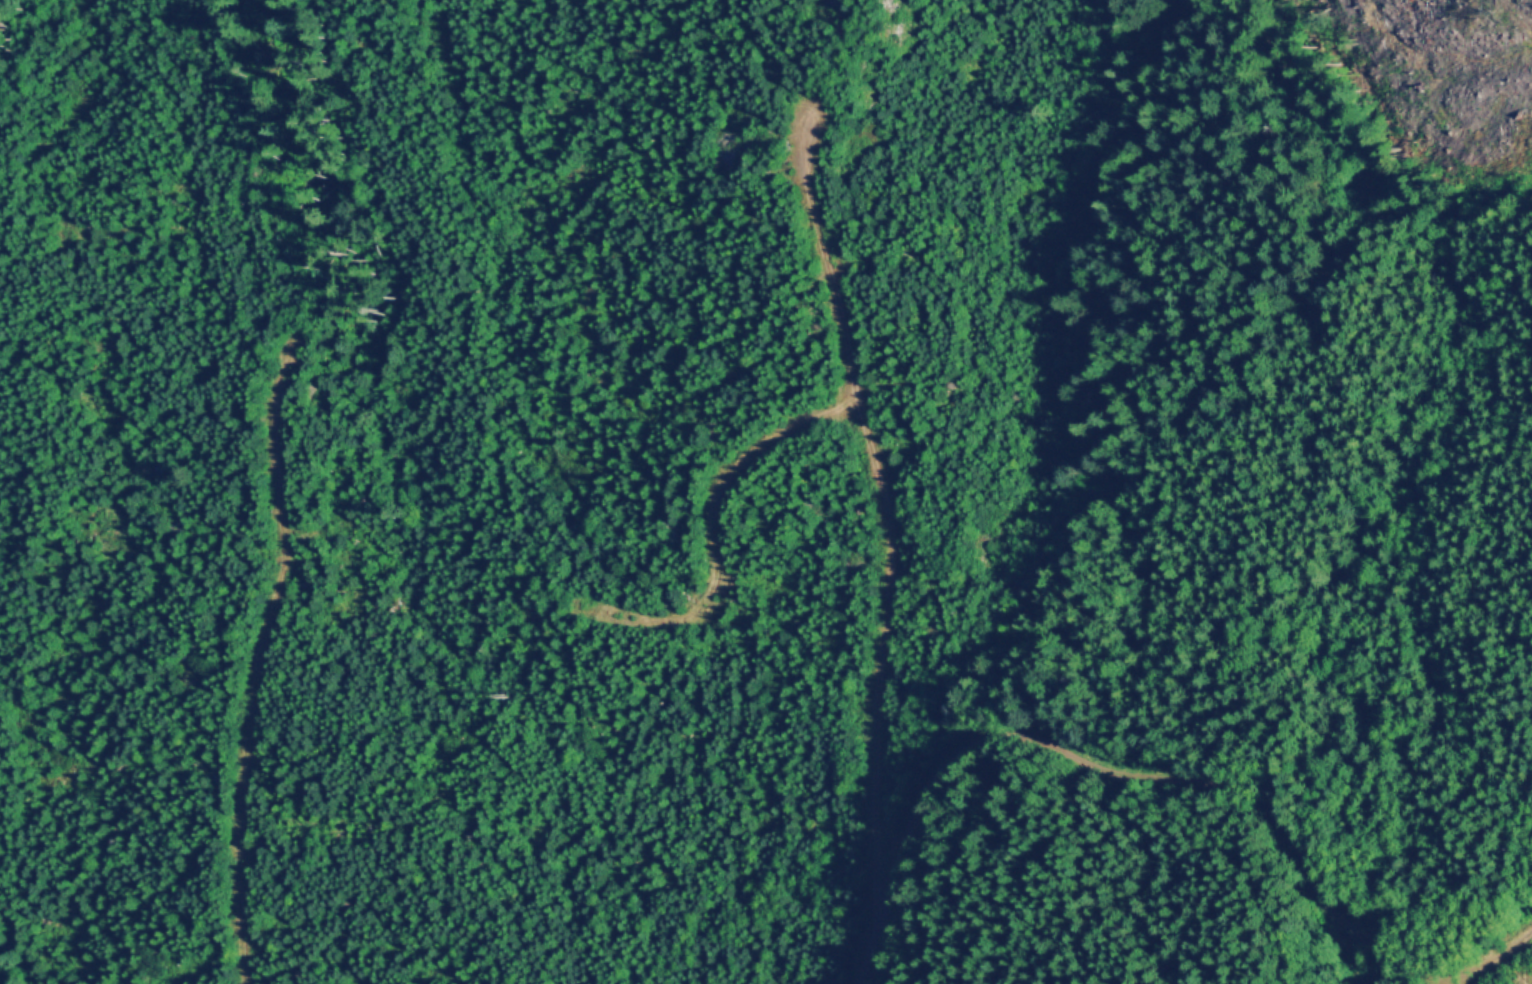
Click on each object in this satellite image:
road: (880, 508)
road: (256, 653)
road: (1157, 785)

